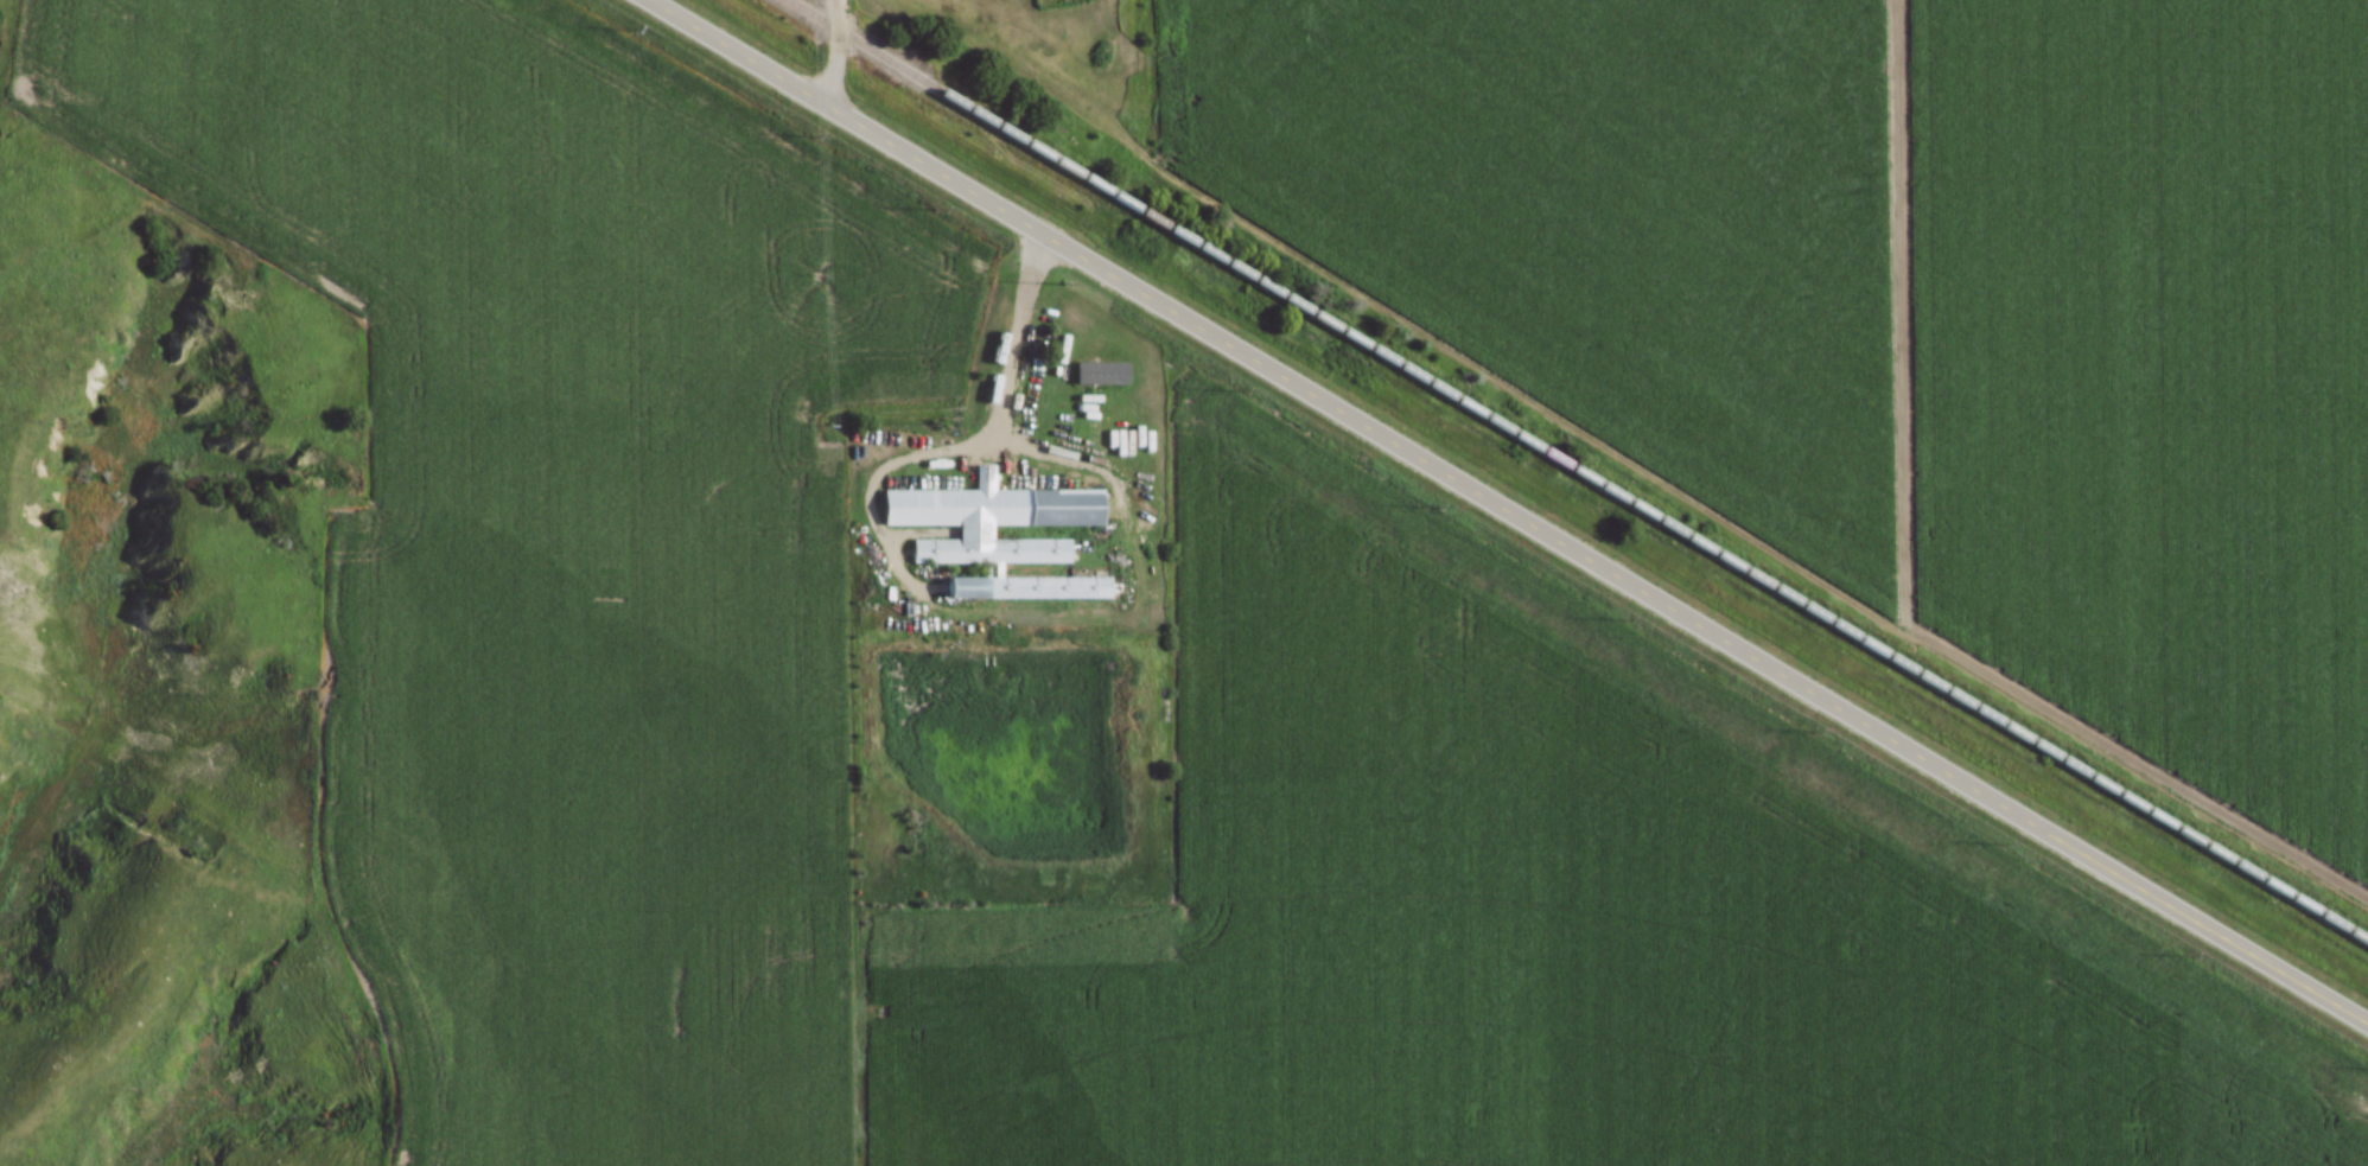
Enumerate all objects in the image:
railway: (798, 13)
road: (836, 18)
road: (834, 72)
building: (1099, 374)
railway: (1593, 486)
road: (1504, 516)
building: (974, 534)
crop: (555, 540)

